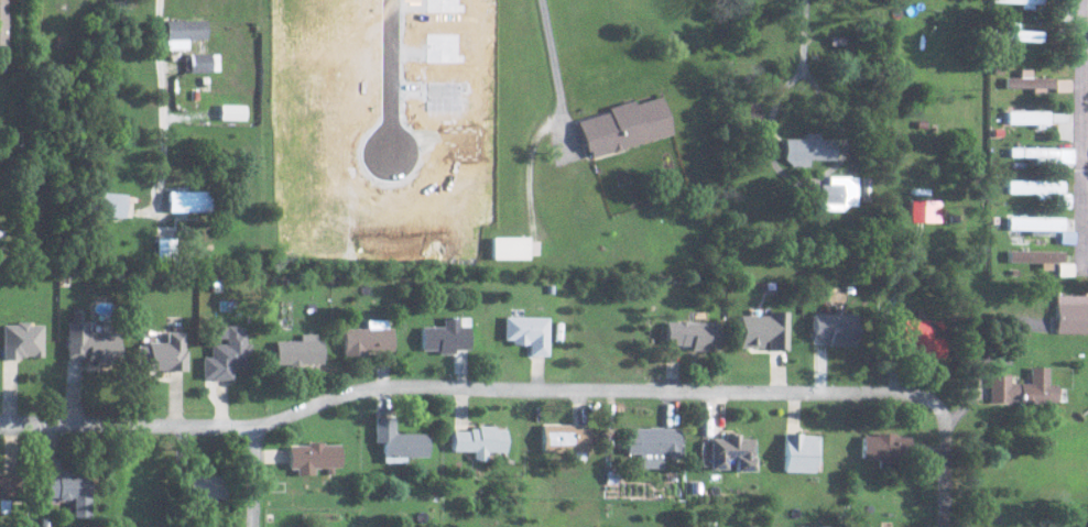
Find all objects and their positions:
building: (1021, 2)
building: (2, 23)
building: (183, 33)
building: (1016, 34)
building: (199, 63)
road: (550, 69)
building: (1030, 81)
road: (157, 101)
building: (231, 112)
building: (1030, 118)
building: (624, 127)
road: (1086, 132)
building: (809, 150)
building: (1045, 155)
building: (1042, 189)
building: (838, 194)
building: (188, 201)
building: (110, 205)
building: (925, 211)
building: (1042, 227)
building: (510, 248)
building: (1036, 257)
building: (1071, 315)
building: (835, 328)
building: (763, 330)
building: (527, 332)
building: (690, 333)
building: (446, 336)
building: (923, 336)
building: (369, 338)
building: (22, 339)
building: (91, 343)
building: (301, 349)
building: (164, 352)
building: (226, 352)
road: (471, 387)
building: (1023, 388)
building: (564, 437)
building: (479, 439)
building: (399, 441)
building: (652, 442)
building: (883, 446)
building: (731, 451)
building: (799, 451)
building: (314, 455)
road: (943, 471)
road: (258, 475)
building: (8, 485)
building: (208, 485)
building: (68, 486)
building: (806, 526)

